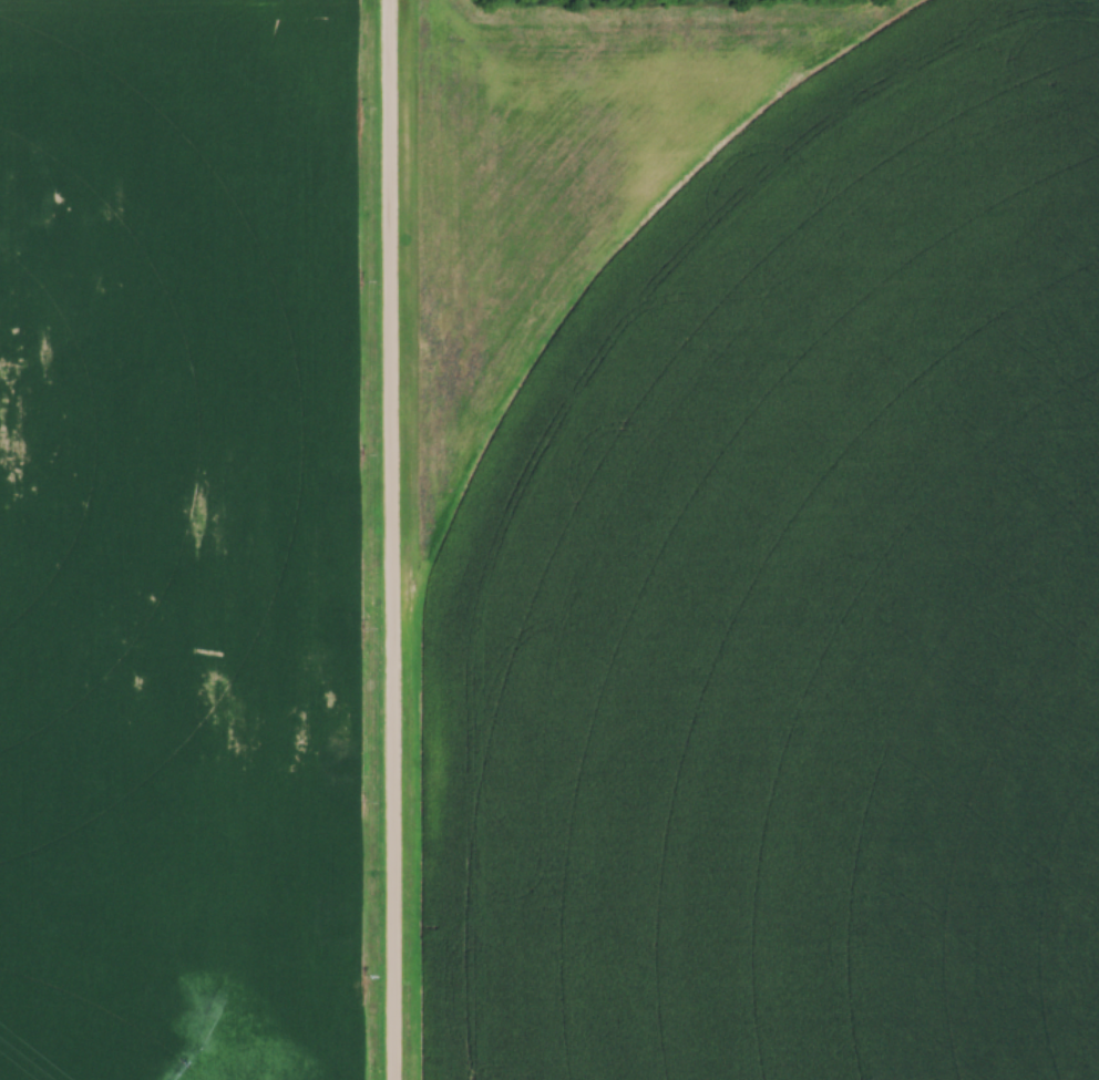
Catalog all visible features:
road: (400, 539)

